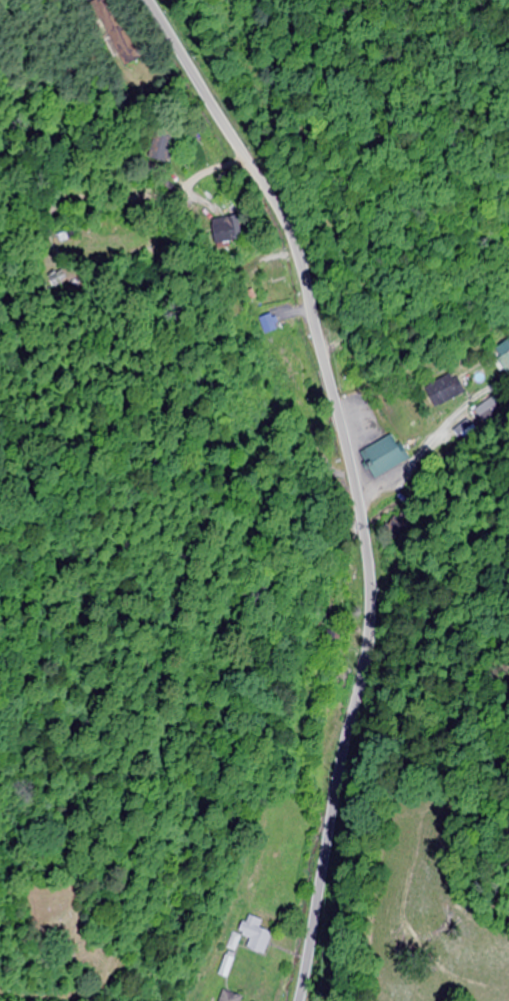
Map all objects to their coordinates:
building: (503, 356)
building: (442, 390)
building: (495, 405)
road: (433, 442)
building: (384, 456)
road: (353, 478)
building: (347, 587)
building: (253, 935)
building: (224, 967)
building: (227, 997)

